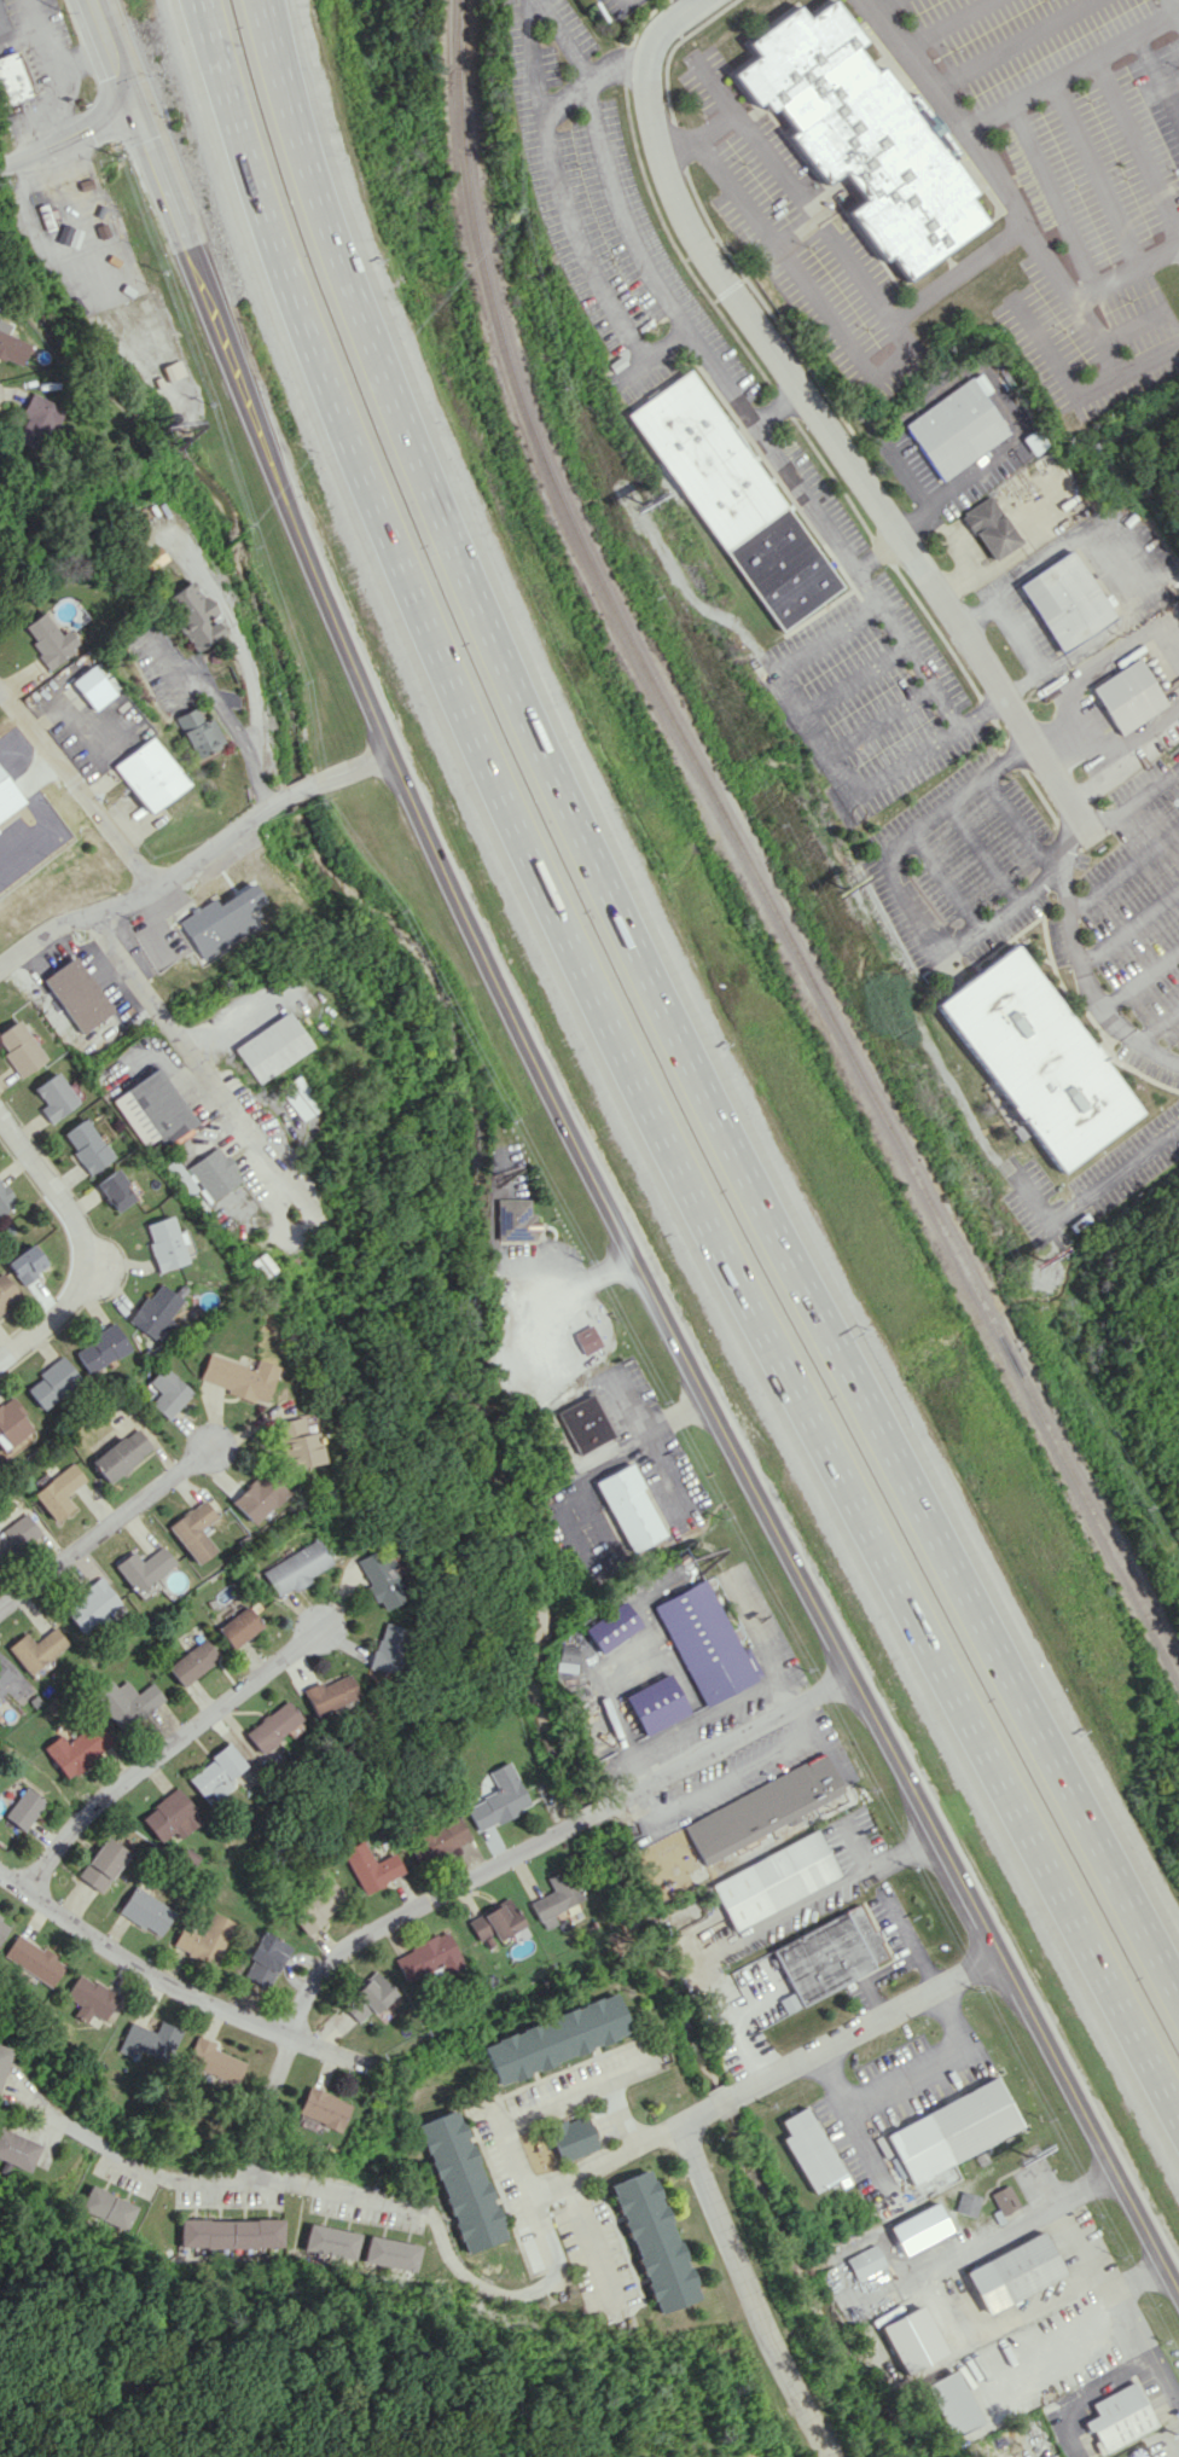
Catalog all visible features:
road: (693, 2)
road: (878, 2)
road: (623, 4)
road: (693, 6)
road: (1177, 13)
road: (1177, 19)
road: (945, 22)
building: (1, 23)
road: (565, 39)
road: (1015, 43)
road: (81, 54)
road: (1075, 64)
road: (53, 77)
building: (11, 80)
road: (1155, 80)
building: (64, 88)
road: (712, 126)
building: (861, 139)
road: (65, 140)
road: (1133, 144)
road: (153, 168)
road: (1093, 179)
road: (250, 185)
road: (1005, 190)
road: (794, 193)
road: (1052, 196)
road: (626, 233)
road: (1129, 323)
building: (151, 327)
road: (849, 338)
road: (1174, 339)
road: (1178, 345)
building: (12, 347)
road: (992, 379)
road: (1098, 385)
building: (36, 423)
road: (830, 426)
building: (958, 426)
road: (789, 474)
building: (731, 499)
building: (991, 527)
building: (150, 557)
building: (1065, 600)
building: (190, 615)
building: (46, 640)
road: (902, 650)
road: (240, 656)
road: (1104, 662)
road: (848, 681)
building: (92, 686)
building: (1131, 696)
road: (220, 710)
road: (872, 719)
road: (1140, 731)
building: (194, 732)
road: (811, 739)
road: (1102, 751)
building: (146, 774)
road: (76, 789)
road: (1133, 802)
road: (1021, 826)
road: (983, 852)
railway: (748, 858)
road: (193, 860)
road: (1122, 875)
road: (898, 888)
building: (217, 920)
road: (1128, 930)
road: (1078, 964)
road: (1139, 978)
building: (75, 994)
road: (667, 1020)
road: (1157, 1026)
building: (271, 1046)
building: (18, 1049)
building: (1034, 1058)
road: (198, 1067)
building: (54, 1097)
building: (297, 1097)
building: (152, 1109)
building: (87, 1145)
building: (205, 1174)
road: (1114, 1174)
building: (116, 1190)
building: (6, 1198)
building: (513, 1219)
road: (81, 1241)
building: (167, 1243)
road: (721, 1255)
building: (27, 1264)
road: (581, 1273)
building: (6, 1291)
building: (155, 1311)
road: (683, 1325)
building: (586, 1338)
building: (100, 1348)
building: (236, 1376)
building: (52, 1381)
building: (167, 1392)
road: (620, 1408)
building: (10, 1422)
building: (585, 1423)
road: (637, 1433)
building: (295, 1444)
building: (120, 1453)
building: (58, 1491)
building: (255, 1497)
building: (628, 1508)
building: (192, 1530)
building: (16, 1533)
road: (105, 1534)
building: (294, 1567)
building: (141, 1568)
building: (377, 1579)
building: (89, 1605)
building: (238, 1626)
building: (611, 1626)
building: (703, 1642)
building: (384, 1648)
building: (35, 1649)
building: (191, 1661)
building: (11, 1684)
building: (327, 1694)
building: (126, 1701)
building: (655, 1703)
building: (271, 1726)
building: (76, 1748)
road: (161, 1753)
building: (214, 1773)
building: (498, 1799)
building: (761, 1807)
building: (23, 1808)
building: (169, 1816)
building: (437, 1835)
road: (899, 1851)
building: (103, 1863)
building: (370, 1866)
road: (483, 1875)
building: (774, 1877)
building: (554, 1898)
building: (319, 1906)
building: (146, 1911)
road: (777, 1913)
building: (495, 1922)
building: (2, 1927)
building: (204, 1939)
road: (912, 1942)
building: (428, 1956)
building: (826, 1956)
building: (265, 1958)
building: (33, 1959)
road: (185, 1987)
building: (89, 1998)
building: (366, 1998)
road: (728, 2017)
building: (554, 2038)
building: (150, 2039)
building: (2, 2055)
building: (213, 2061)
road: (901, 2069)
road: (766, 2076)
road: (550, 2102)
building: (323, 2108)
building: (952, 2130)
building: (570, 2137)
building: (16, 2149)
building: (809, 2149)
building: (460, 2180)
road: (364, 2190)
building: (1003, 2198)
building: (966, 2203)
building: (108, 2207)
building: (918, 2227)
building: (232, 2232)
road: (586, 2237)
building: (332, 2241)
building: (652, 2241)
road: (1070, 2248)
building: (393, 2253)
building: (864, 2261)
building: (1012, 2272)
road: (766, 2285)
road: (943, 2302)
road: (1062, 2334)
building: (911, 2337)
road: (1140, 2341)
building: (951, 2403)
building: (1117, 2416)

